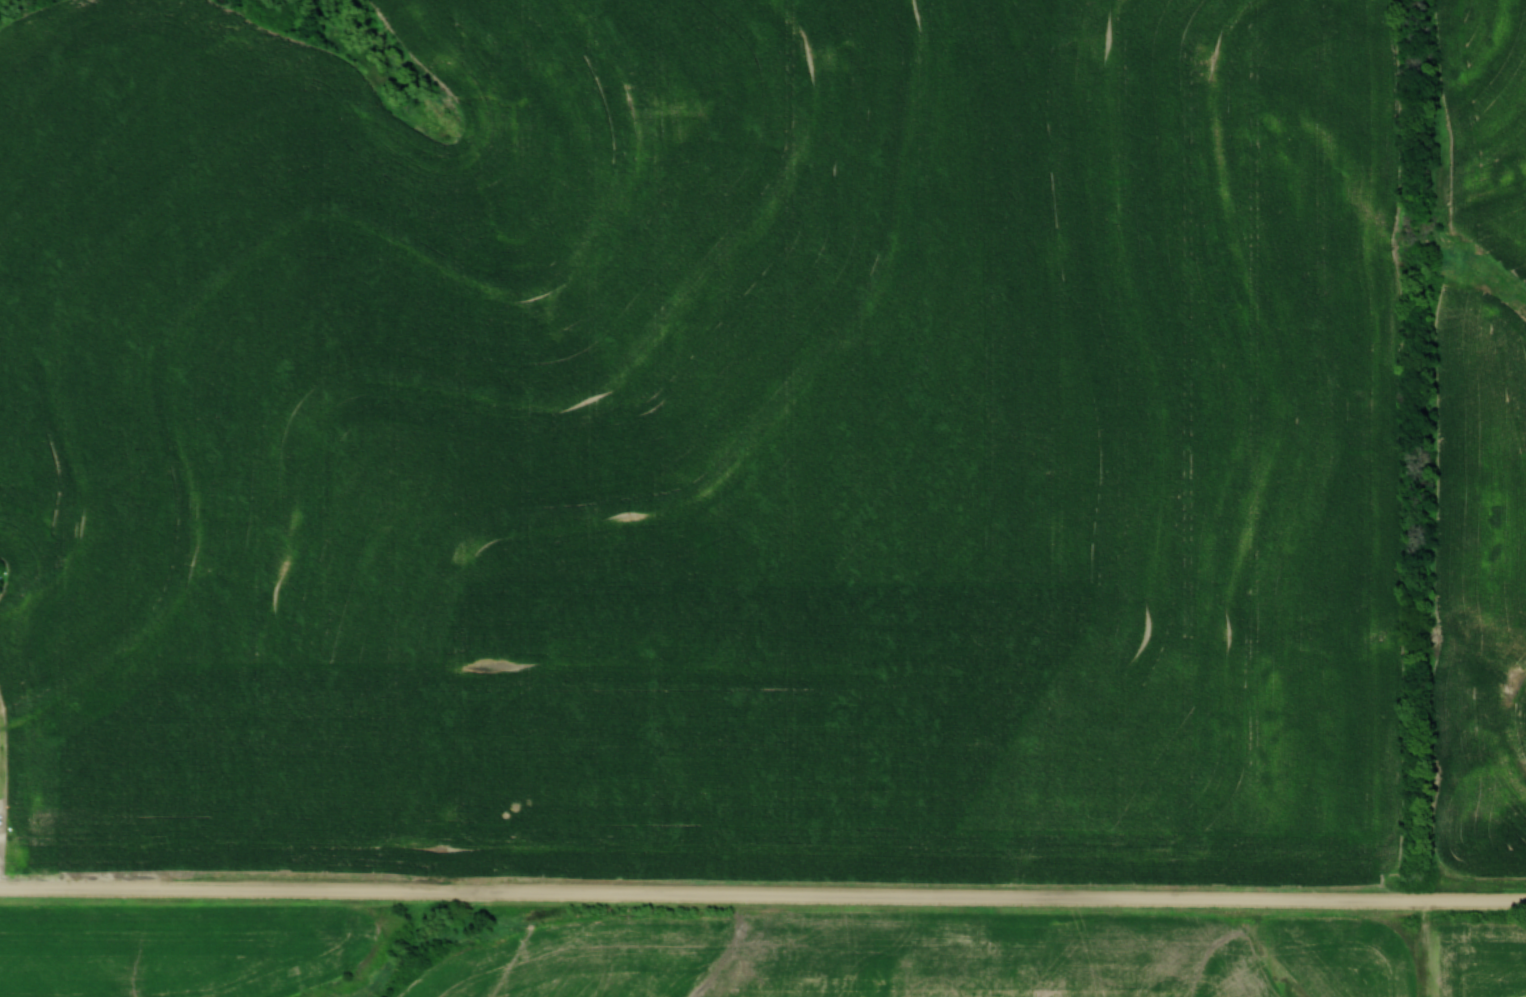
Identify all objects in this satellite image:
road: (763, 899)

